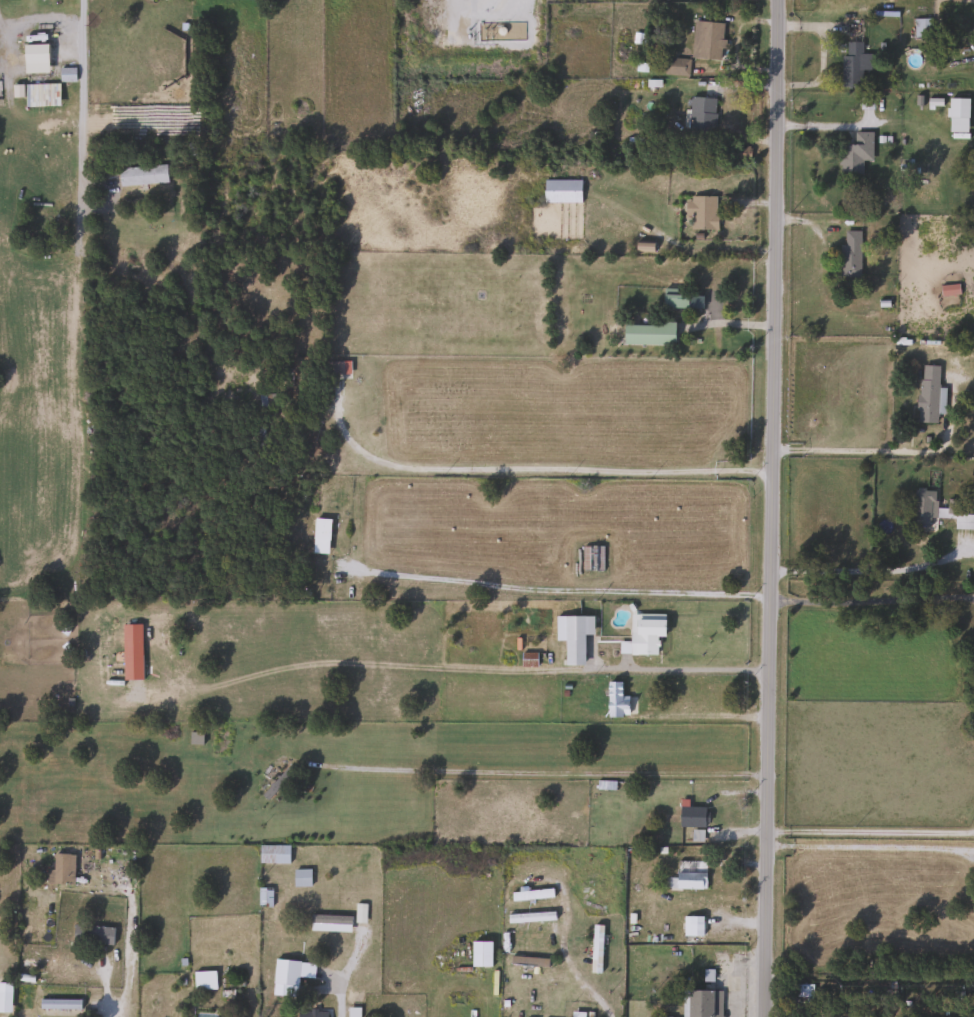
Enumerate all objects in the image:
road: (39, 19)
building: (922, 29)
building: (706, 40)
building: (34, 58)
building: (853, 64)
building: (675, 66)
building: (67, 74)
building: (41, 95)
road: (79, 106)
building: (972, 110)
building: (700, 116)
building: (854, 154)
building: (142, 175)
building: (561, 191)
building: (703, 213)
building: (849, 254)
building: (674, 301)
building: (648, 334)
building: (334, 368)
building: (299, 379)
building: (927, 394)
road: (883, 450)
road: (555, 469)
road: (773, 508)
building: (924, 509)
building: (320, 536)
building: (592, 558)
road: (871, 569)
road: (566, 590)
road: (873, 599)
building: (644, 636)
building: (573, 637)
building: (527, 660)
road: (662, 669)
building: (615, 701)
road: (705, 716)
road: (539, 771)
building: (276, 785)
building: (691, 816)
road: (872, 830)
building: (273, 855)
building: (61, 870)
building: (301, 878)
building: (690, 881)
building: (264, 897)
building: (530, 917)
building: (692, 926)
building: (94, 935)
road: (130, 945)
building: (596, 949)
building: (481, 954)
building: (529, 961)
building: (204, 981)
road: (582, 984)
building: (703, 1003)
building: (59, 1004)
road: (341, 1008)
building: (311, 1014)

